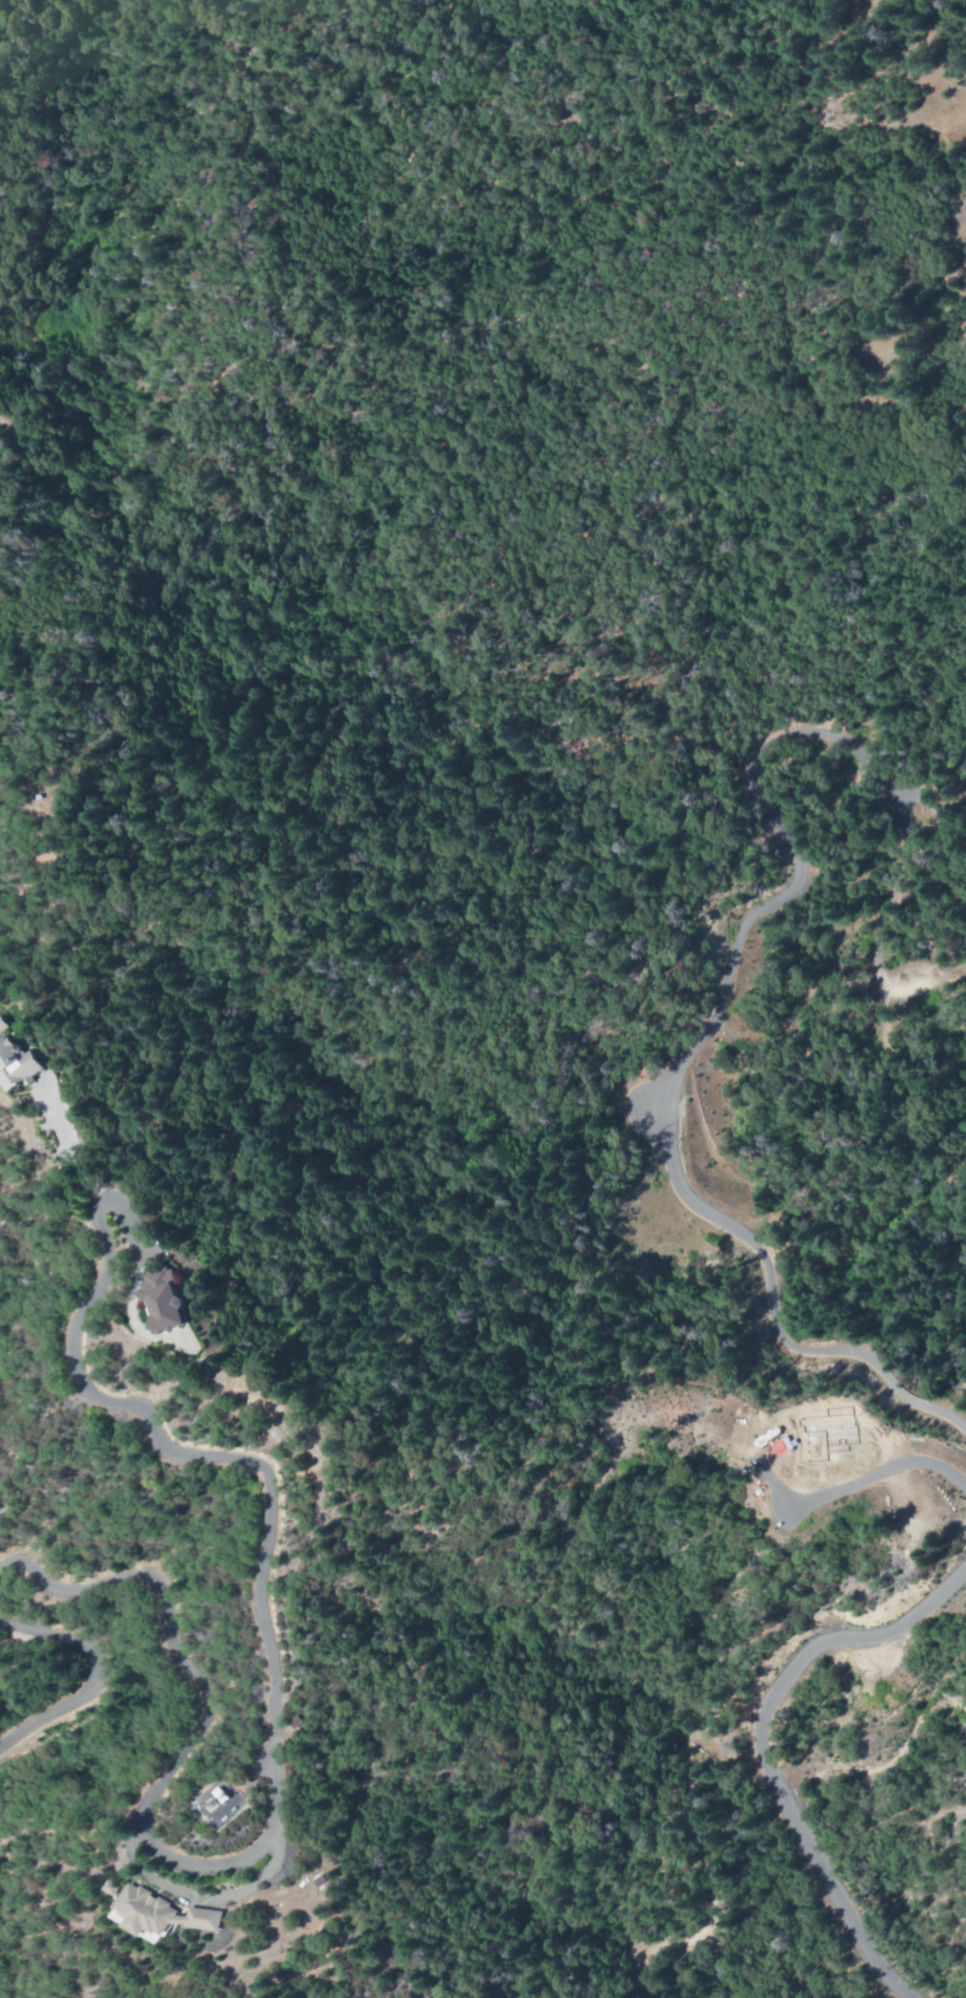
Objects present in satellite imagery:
building: (10, 1064)
building: (148, 1300)
road: (774, 1307)
road: (83, 1673)
road: (763, 1743)
building: (208, 1808)
building: (156, 1916)

